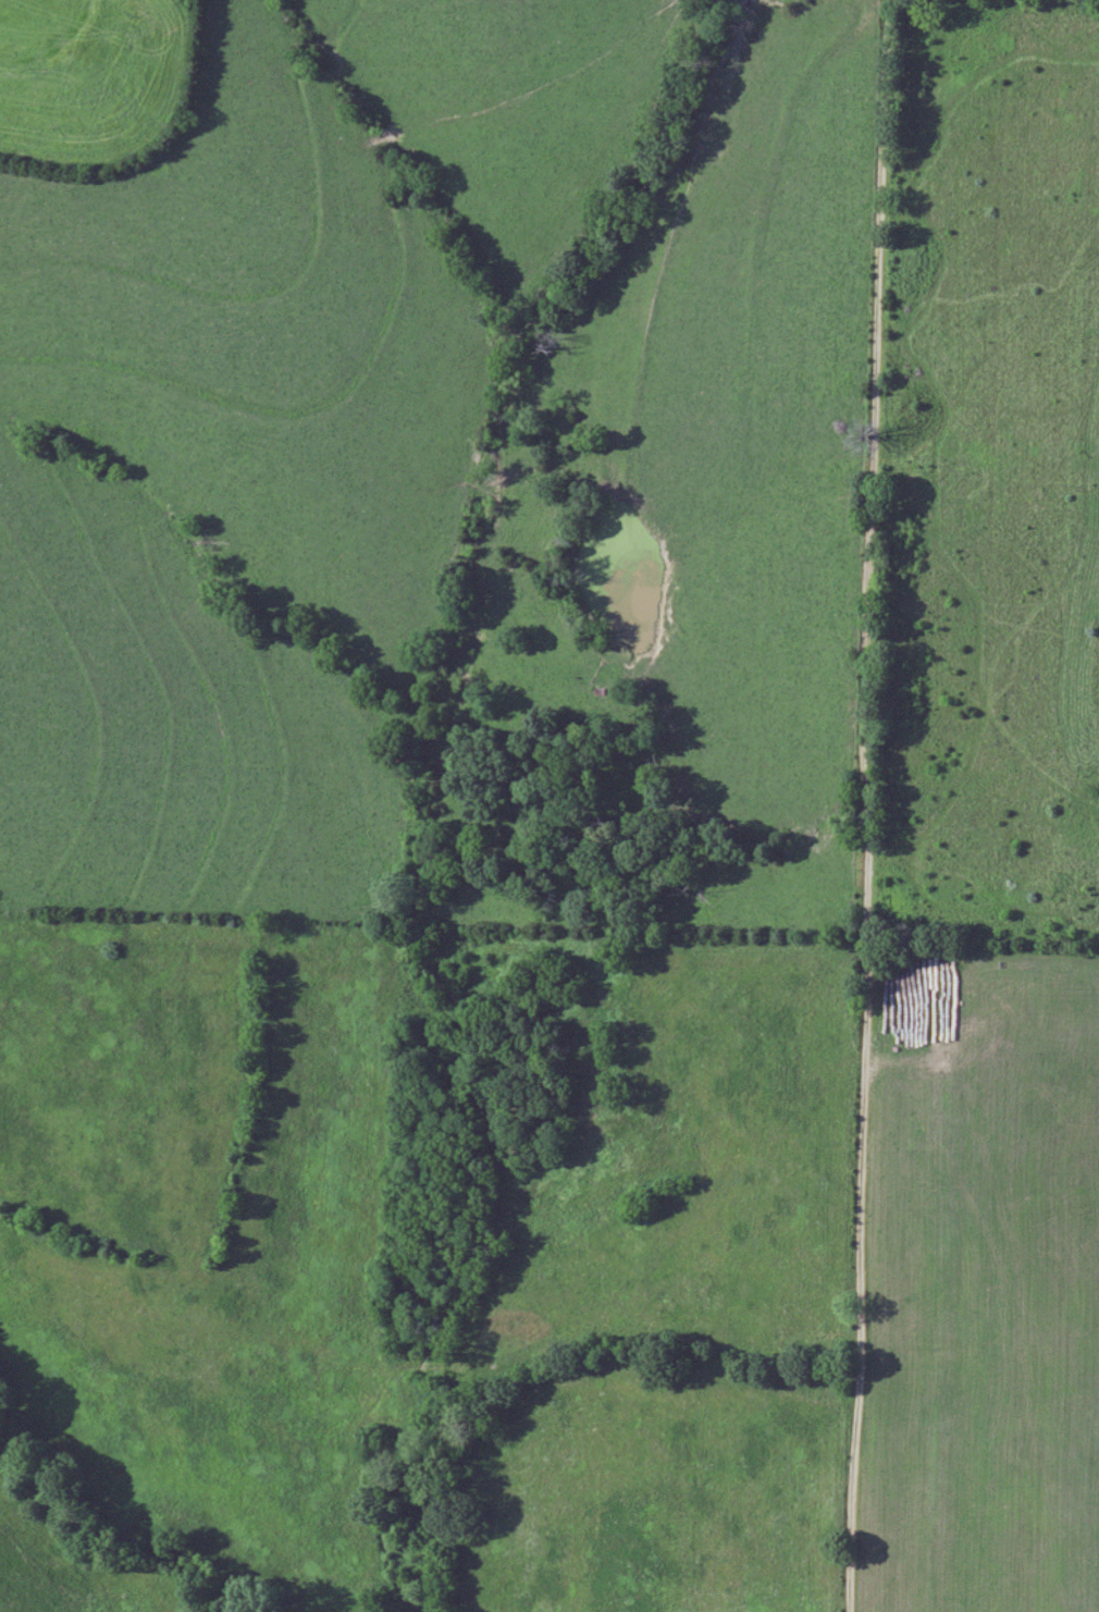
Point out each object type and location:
road: (884, 805)

